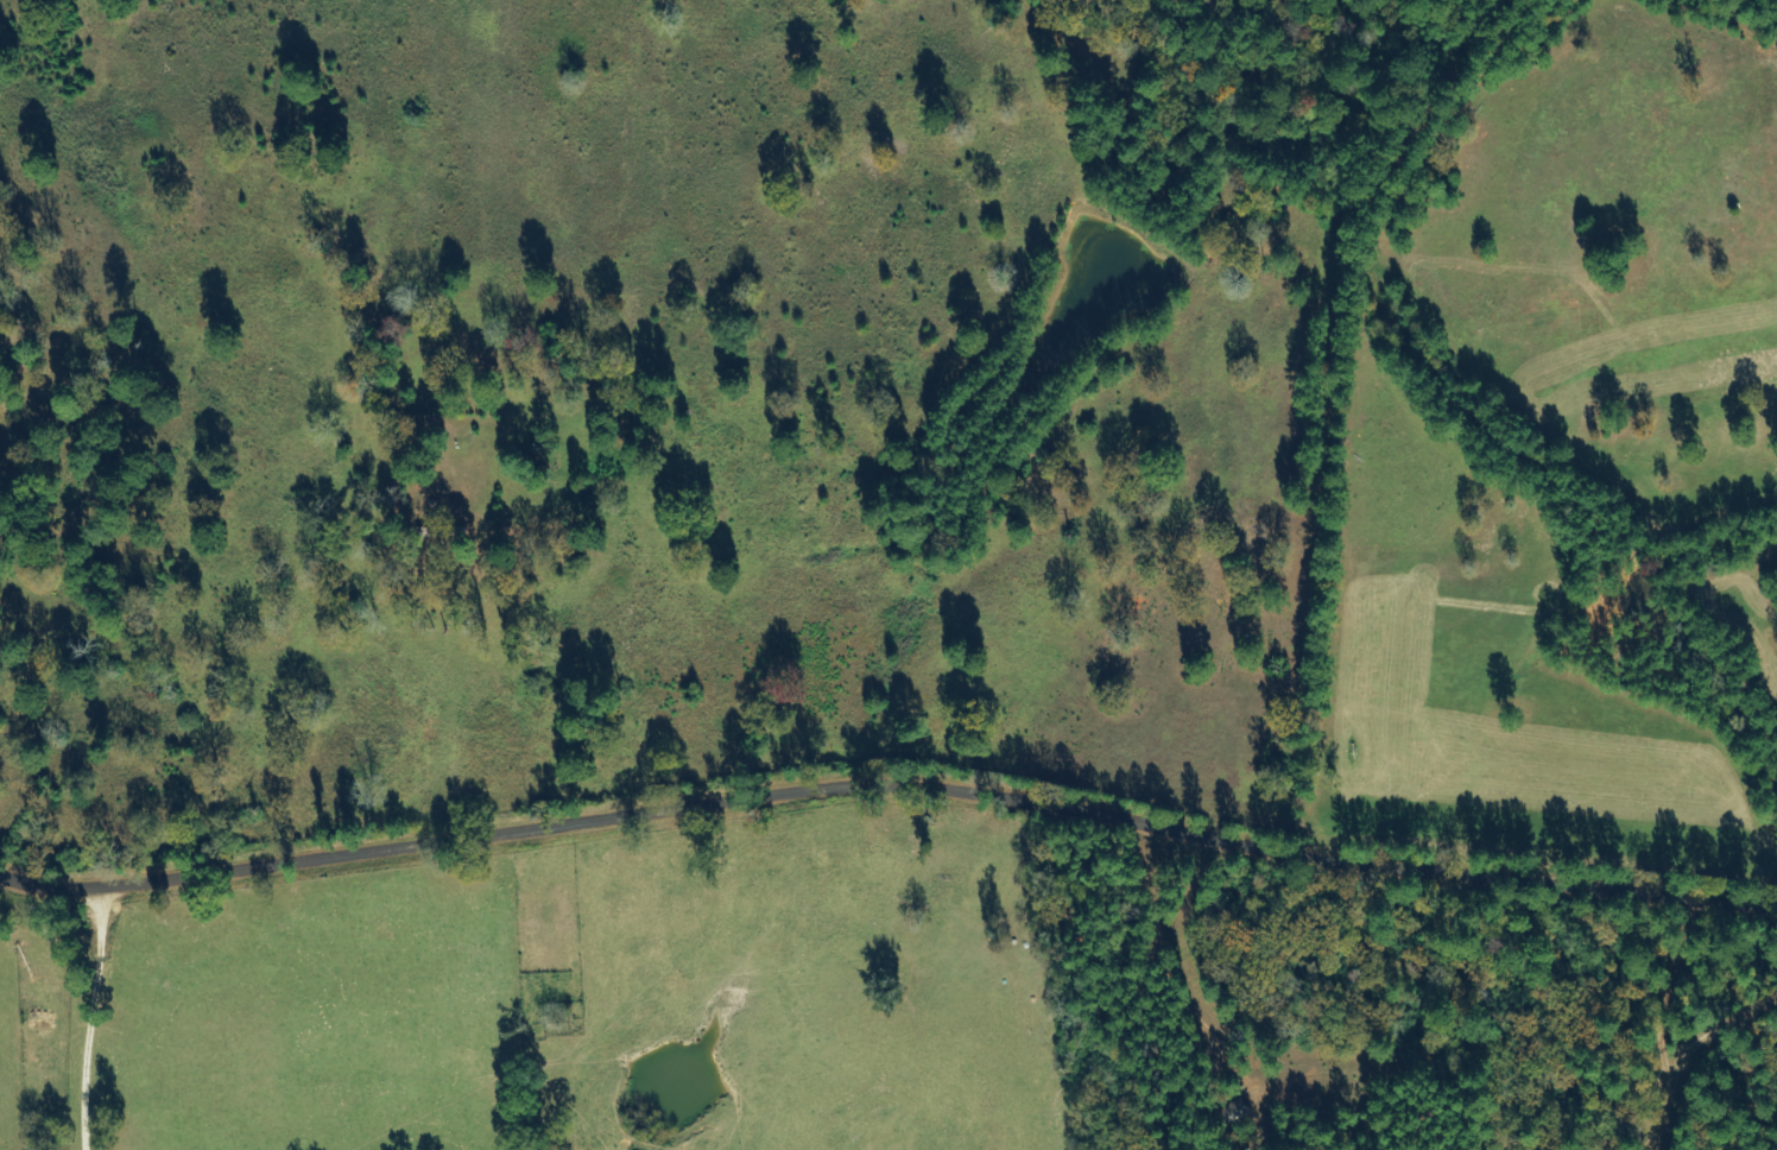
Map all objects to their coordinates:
road: (883, 794)
road: (31, 1023)

